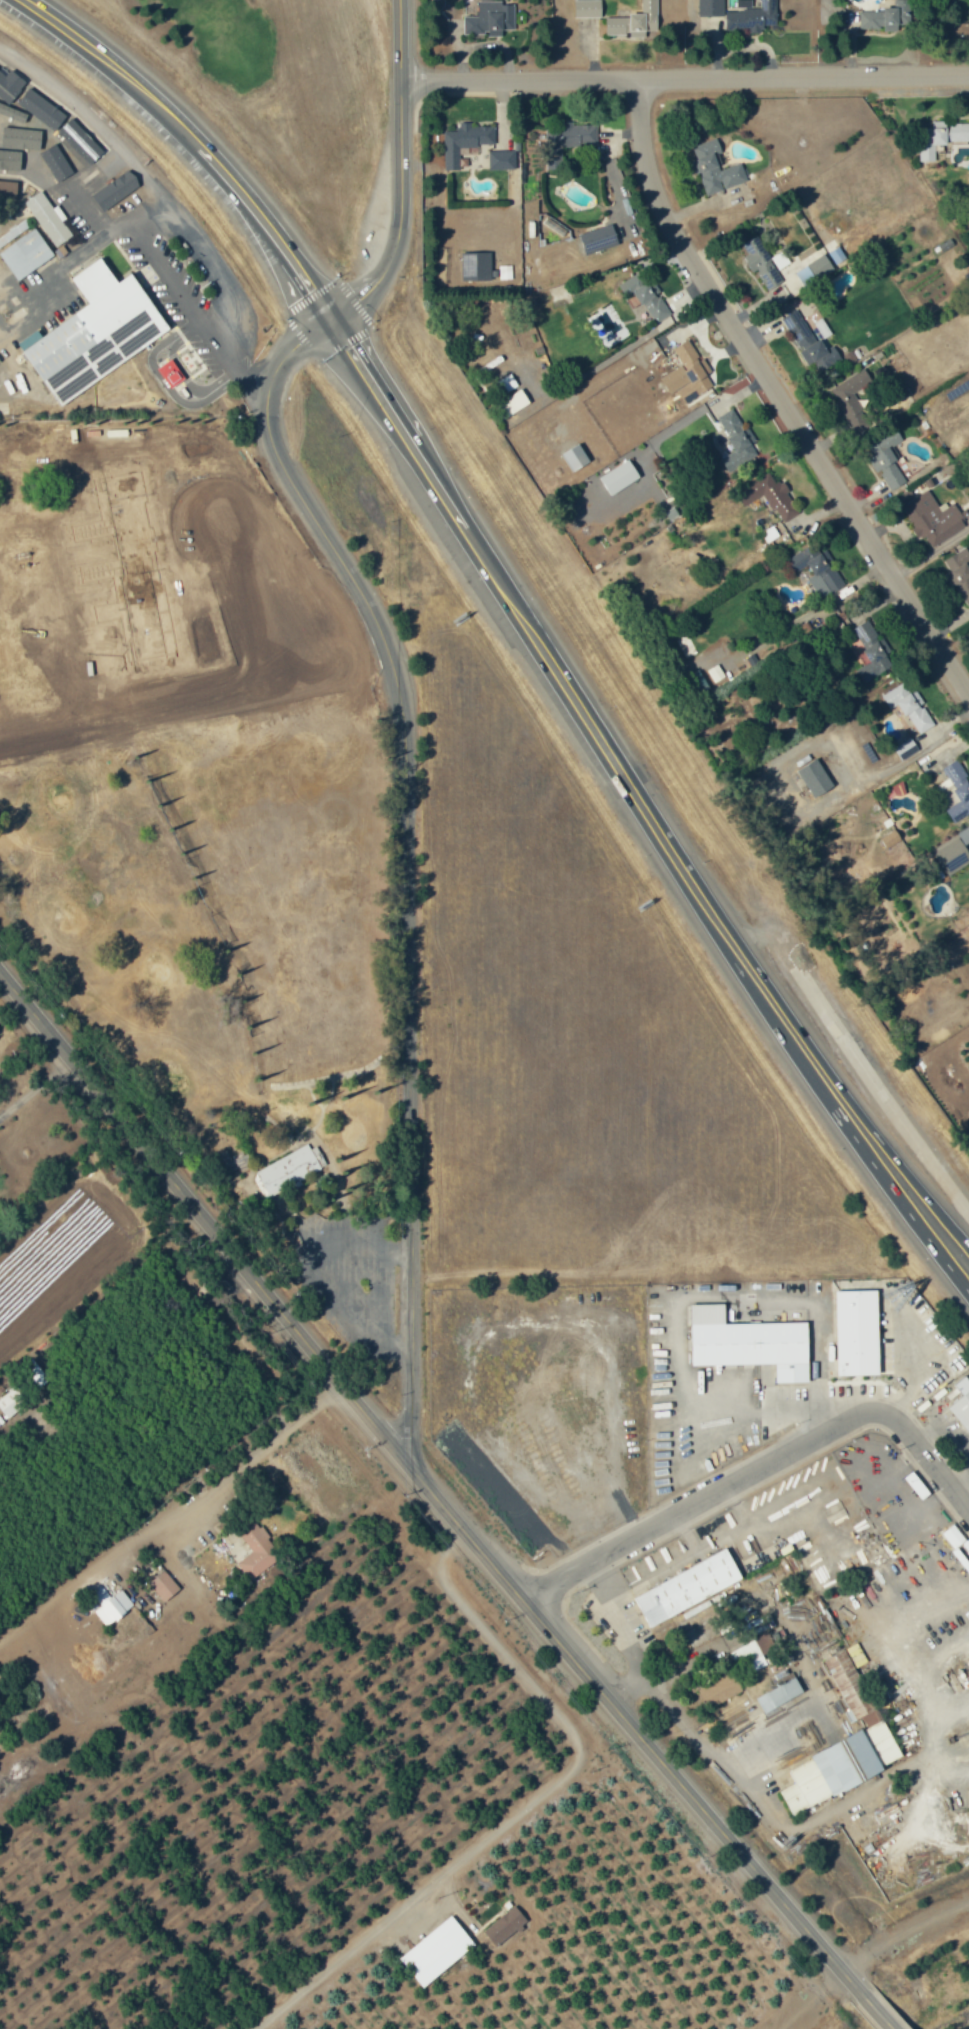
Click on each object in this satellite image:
building: (588, 8)
building: (751, 16)
building: (888, 16)
building: (490, 18)
building: (635, 21)
road: (683, 78)
road: (87, 116)
building: (22, 137)
building: (940, 137)
building: (466, 140)
building: (80, 141)
road: (195, 141)
building: (502, 160)
building: (56, 162)
building: (717, 168)
road: (399, 173)
building: (8, 188)
building: (116, 189)
road: (90, 211)
building: (49, 217)
building: (14, 232)
building: (598, 238)
building: (26, 253)
road: (74, 255)
road: (201, 256)
building: (476, 266)
building: (814, 267)
building: (763, 268)
road: (174, 285)
building: (646, 296)
traffic signals: (329, 317)
building: (45, 326)
building: (95, 332)
building: (811, 338)
building: (171, 372)
road: (241, 372)
building: (693, 372)
road: (779, 394)
building: (853, 400)
building: (513, 404)
building: (731, 422)
building: (895, 440)
building: (739, 452)
building: (575, 458)
building: (887, 467)
building: (619, 477)
building: (770, 496)
building: (933, 518)
building: (818, 570)
building: (959, 574)
road: (529, 630)
building: (872, 651)
building: (910, 707)
building: (906, 748)
building: (815, 778)
building: (958, 789)
road: (403, 855)
building: (953, 856)
road: (797, 1056)
road: (879, 1095)
road: (846, 1098)
building: (291, 1169)
road: (920, 1229)
building: (854, 1326)
building: (744, 1337)
road: (124, 1377)
building: (13, 1399)
building: (961, 1404)
road: (756, 1462)
road: (218, 1480)
road: (427, 1487)
building: (953, 1536)
building: (256, 1548)
building: (683, 1583)
building: (164, 1585)
building: (113, 1607)
building: (765, 1636)
building: (742, 1647)
building: (846, 1679)
building: (716, 1684)
building: (782, 1686)
building: (837, 1760)
road: (519, 1801)
building: (505, 1925)
building: (432, 1946)
road: (862, 1950)
road: (877, 2012)

